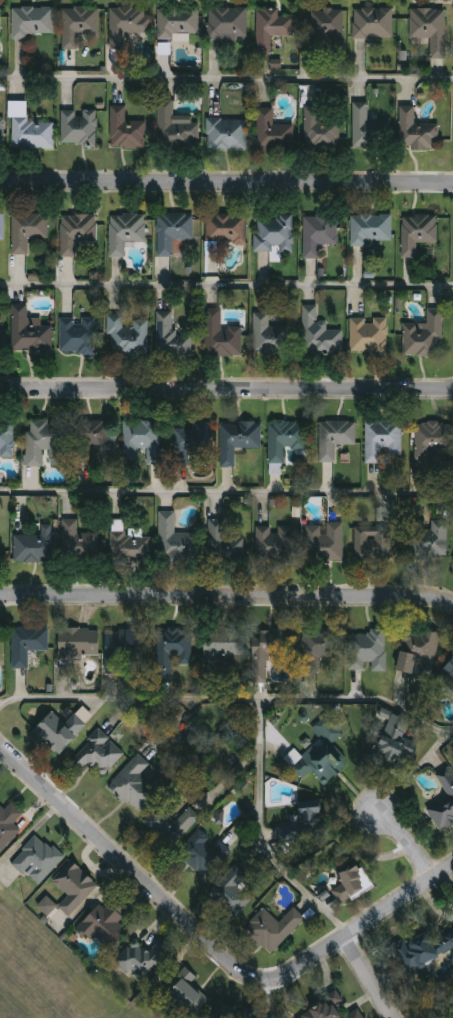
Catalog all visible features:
building: (1, 21)
building: (33, 22)
building: (179, 22)
building: (374, 23)
building: (228, 24)
building: (80, 25)
building: (127, 25)
building: (327, 26)
building: (431, 28)
building: (272, 29)
road: (226, 78)
building: (176, 127)
building: (80, 128)
building: (369, 129)
building: (127, 130)
building: (321, 131)
building: (417, 131)
building: (273, 132)
building: (34, 133)
building: (2, 134)
building: (227, 134)
road: (226, 182)
building: (2, 229)
building: (227, 229)
building: (372, 230)
building: (28, 231)
building: (173, 231)
building: (77, 232)
building: (126, 232)
building: (275, 233)
building: (319, 234)
building: (419, 234)
road: (226, 285)
building: (31, 334)
building: (320, 334)
building: (370, 335)
building: (79, 336)
building: (222, 336)
building: (270, 336)
building: (424, 336)
building: (127, 337)
building: (172, 337)
building: (2, 340)
road: (226, 390)
building: (336, 438)
building: (91, 439)
building: (7, 440)
building: (287, 440)
building: (383, 440)
building: (144, 441)
building: (238, 441)
building: (434, 441)
building: (194, 442)
building: (47, 443)
building: (275, 468)
road: (226, 492)
building: (430, 540)
building: (175, 542)
building: (276, 543)
building: (326, 543)
building: (79, 544)
building: (224, 544)
building: (37, 546)
building: (373, 547)
building: (131, 548)
building: (0, 550)
road: (227, 595)
building: (79, 643)
building: (28, 645)
building: (319, 647)
building: (223, 649)
building: (271, 650)
building: (418, 650)
building: (128, 651)
building: (369, 651)
building: (173, 652)
building: (447, 676)
road: (359, 699)
road: (260, 701)
building: (60, 731)
building: (395, 745)
building: (98, 752)
building: (323, 754)
building: (135, 784)
building: (444, 804)
building: (9, 825)
building: (172, 825)
building: (306, 826)
road: (404, 839)
building: (204, 854)
building: (38, 859)
building: (353, 883)
building: (75, 888)
building: (232, 893)
building: (47, 905)
building: (105, 925)
building: (274, 928)
road: (208, 948)
building: (427, 949)
building: (142, 961)
road: (367, 977)
building: (190, 997)
building: (329, 1006)
building: (236, 1013)
building: (356, 1015)

